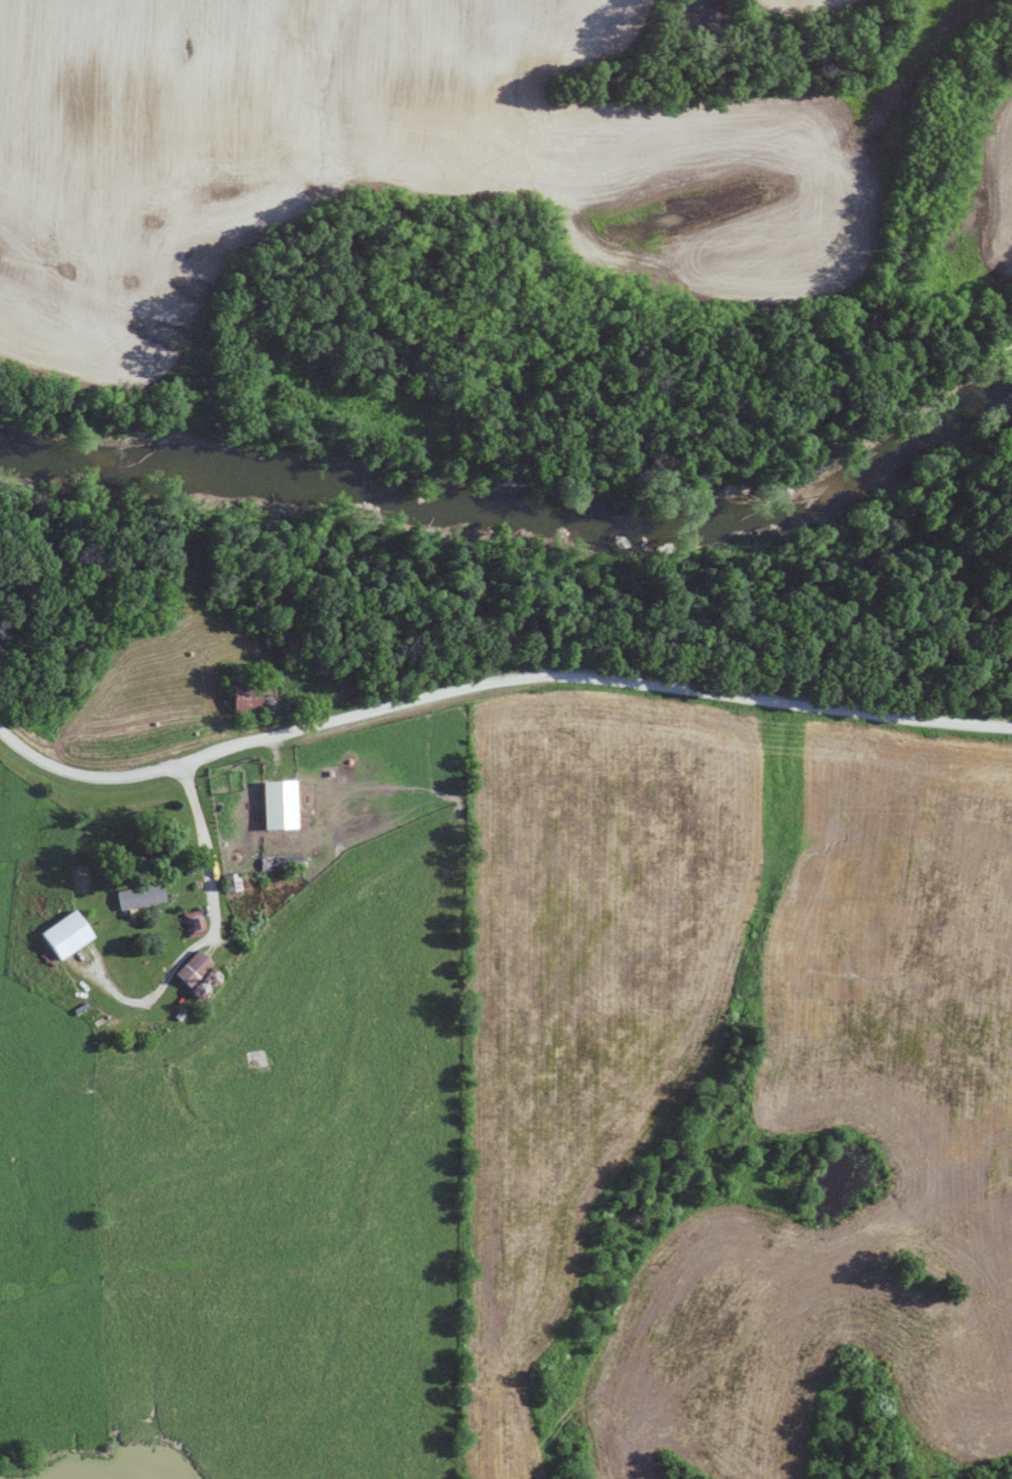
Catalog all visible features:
river: (524, 521)
building: (247, 701)
road: (491, 706)
building: (279, 805)
road: (202, 830)
building: (280, 862)
building: (227, 883)
building: (140, 896)
building: (192, 922)
building: (66, 935)
building: (193, 967)

